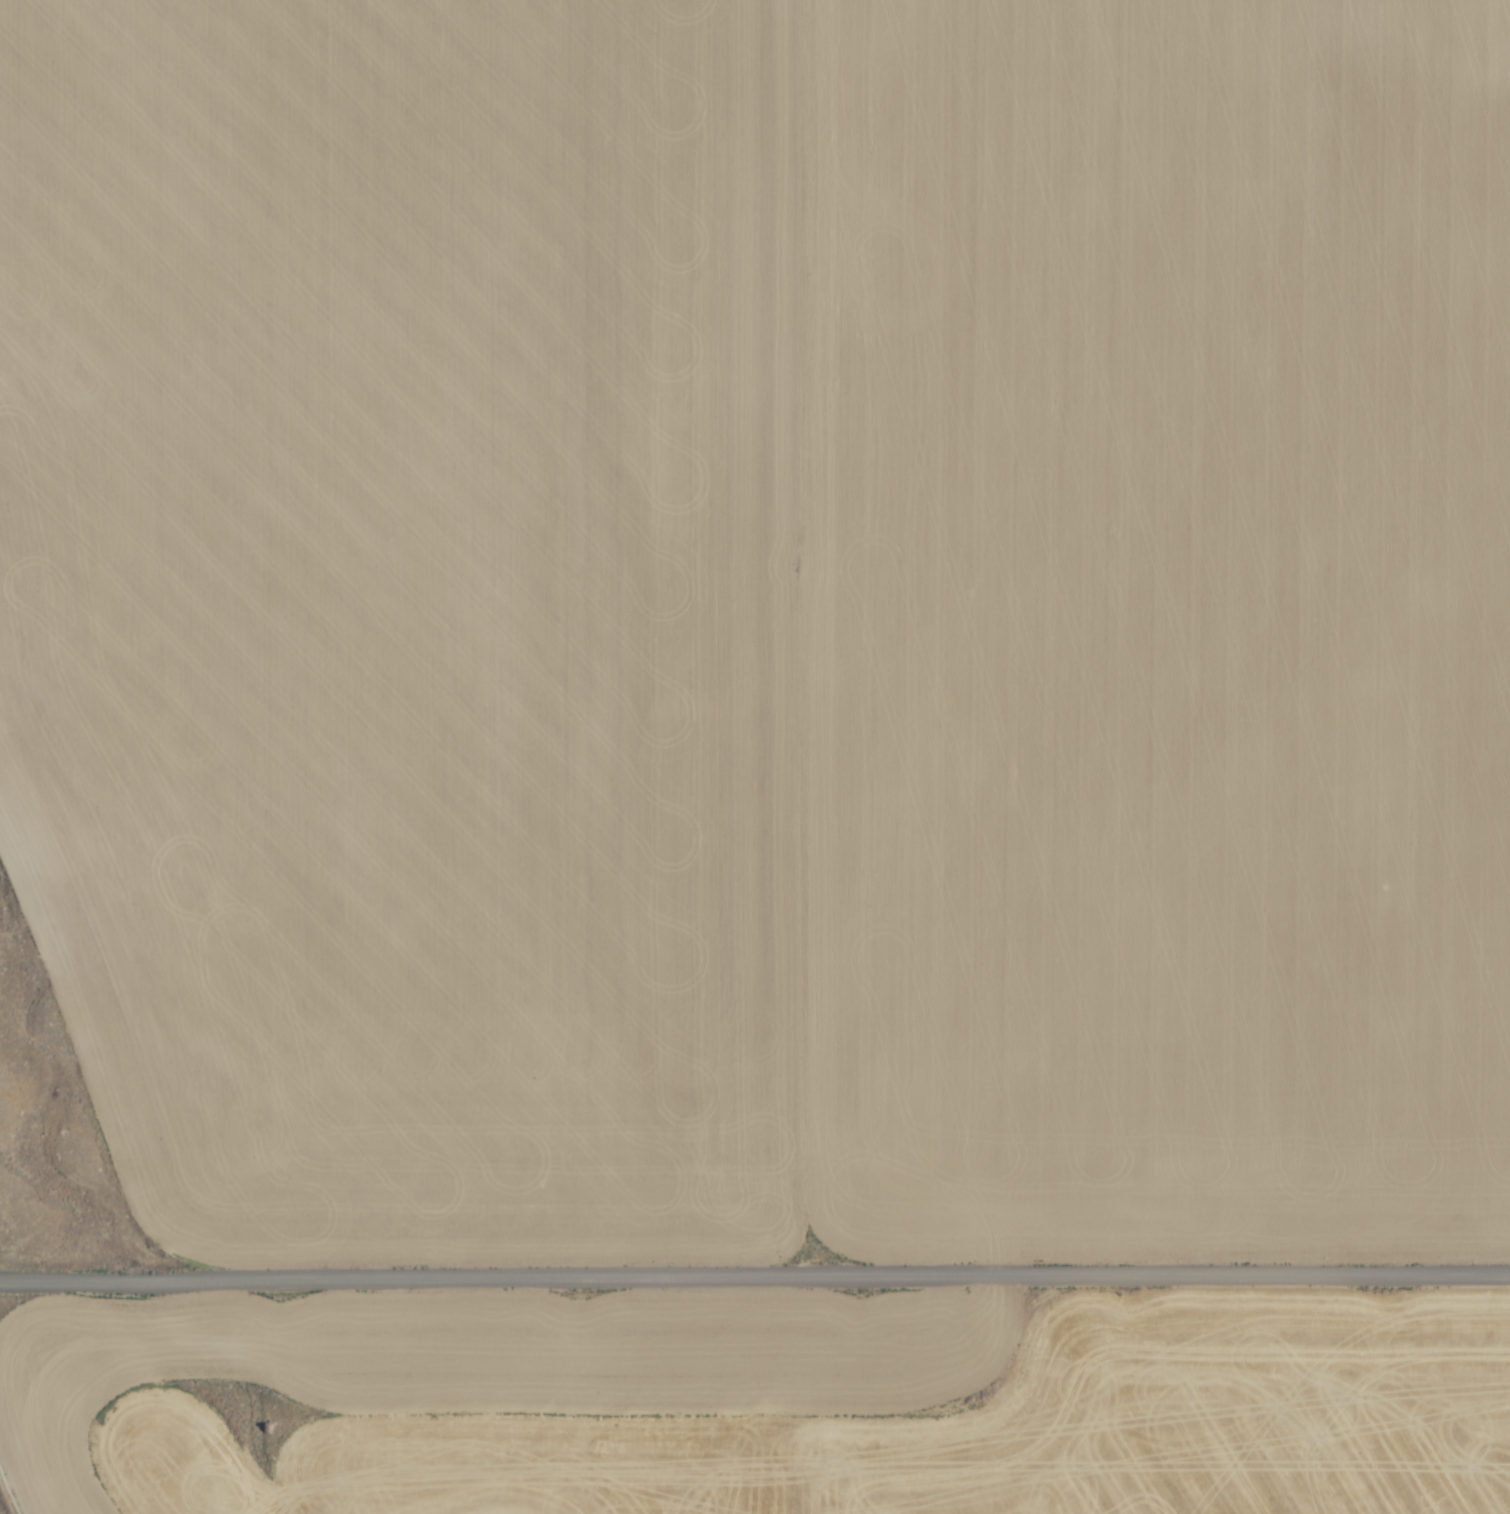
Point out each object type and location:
road: (755, 1287)

